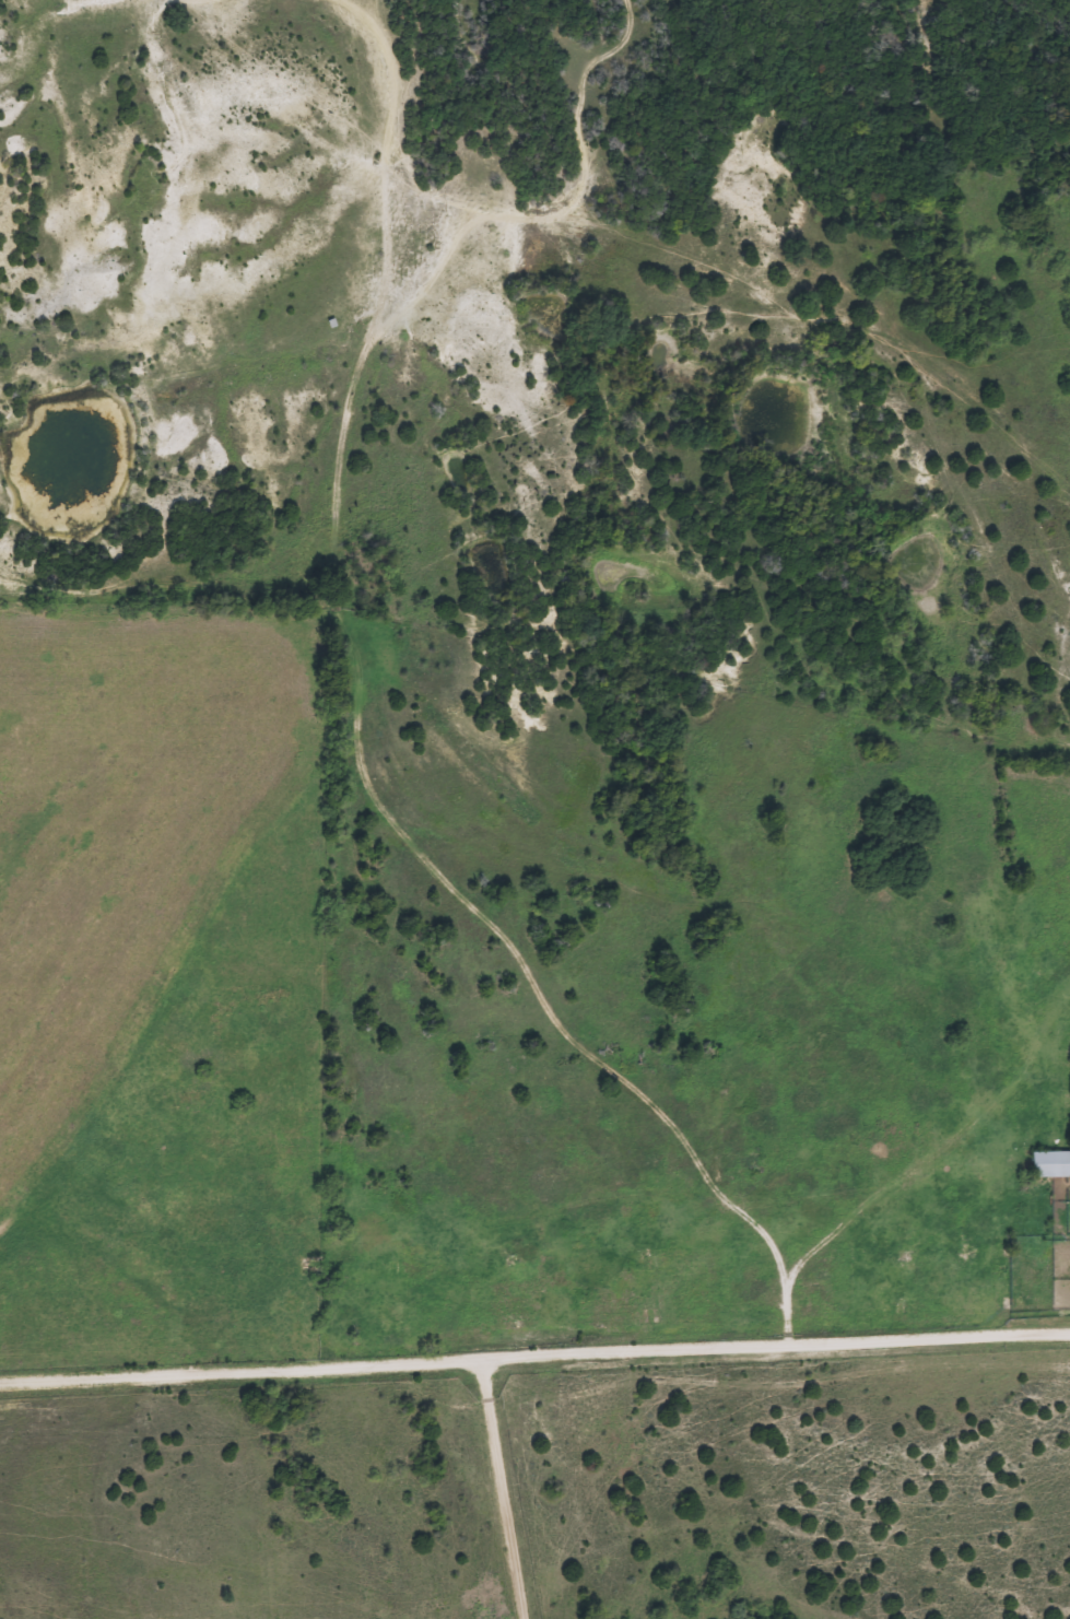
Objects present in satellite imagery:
building: (1048, 1163)
road: (534, 1356)
road: (503, 1488)

